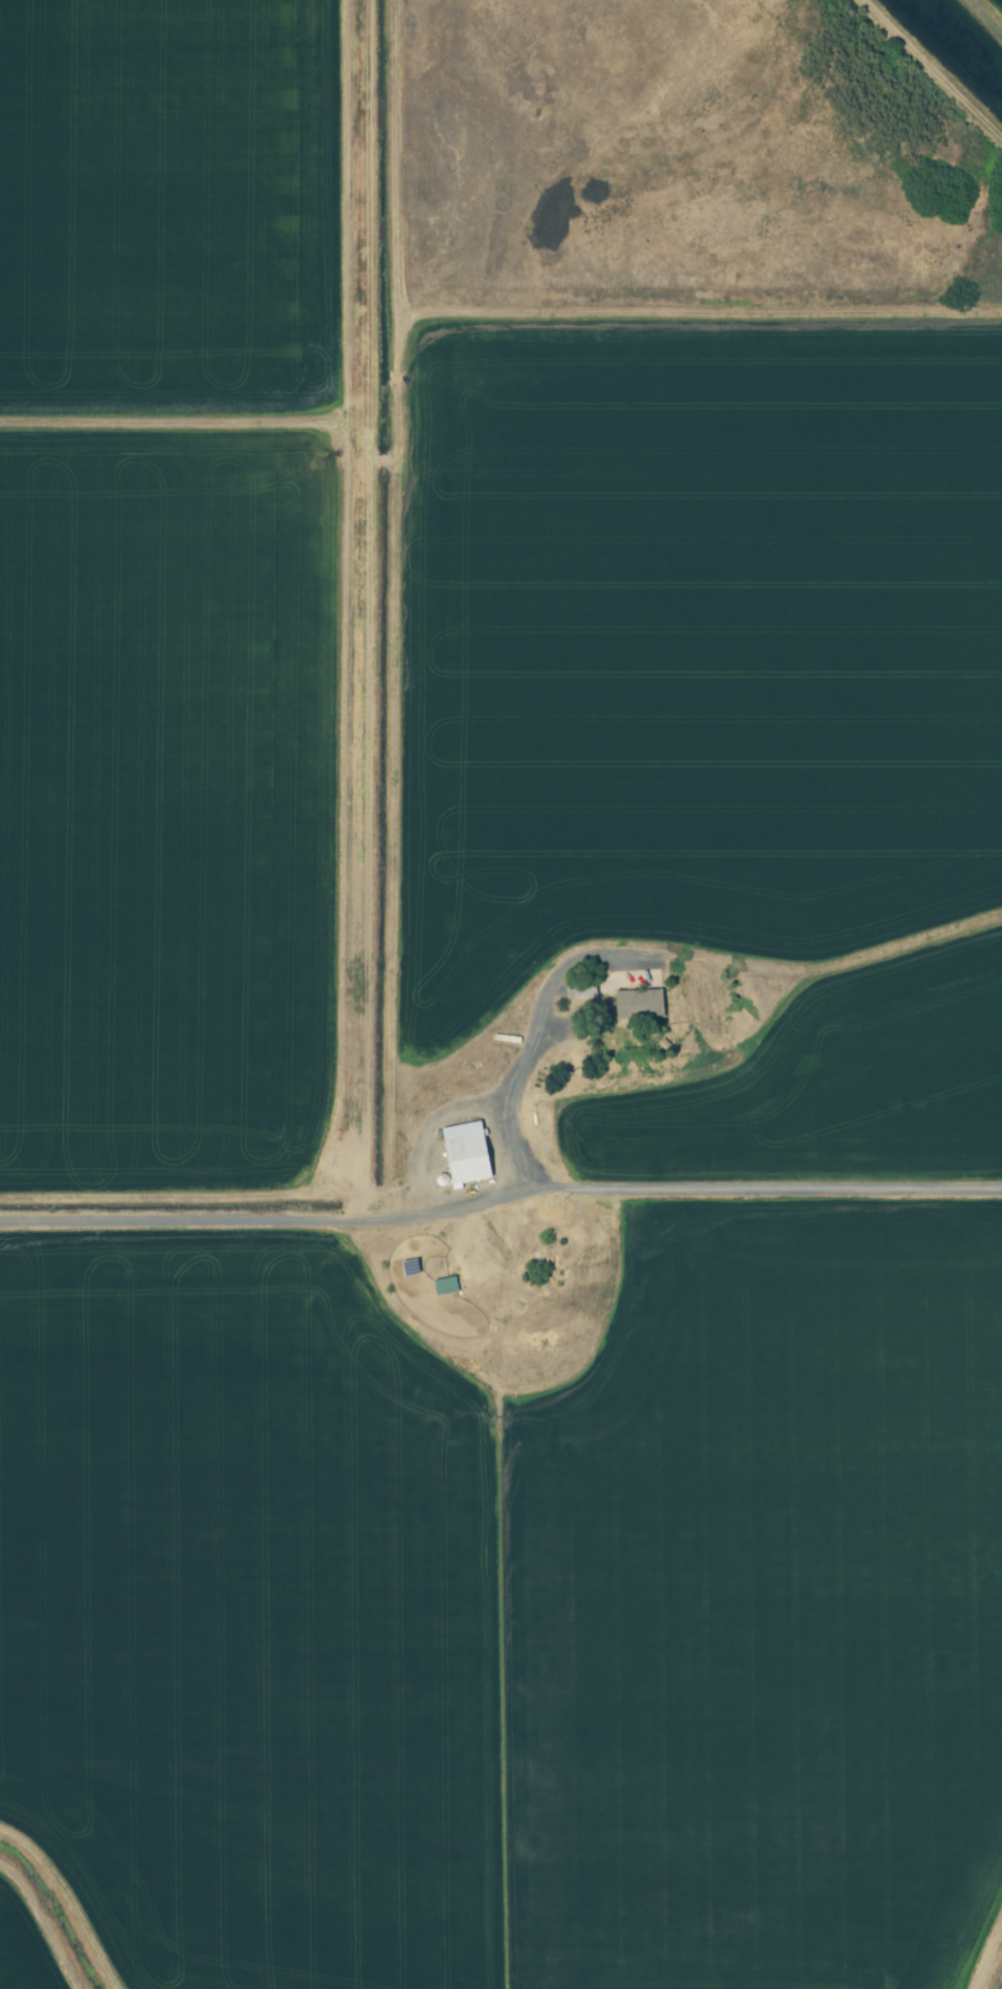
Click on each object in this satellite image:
river: (960, 41)
building: (577, 990)
building: (635, 1005)
building: (461, 1153)
road: (499, 1188)
building: (441, 1285)

